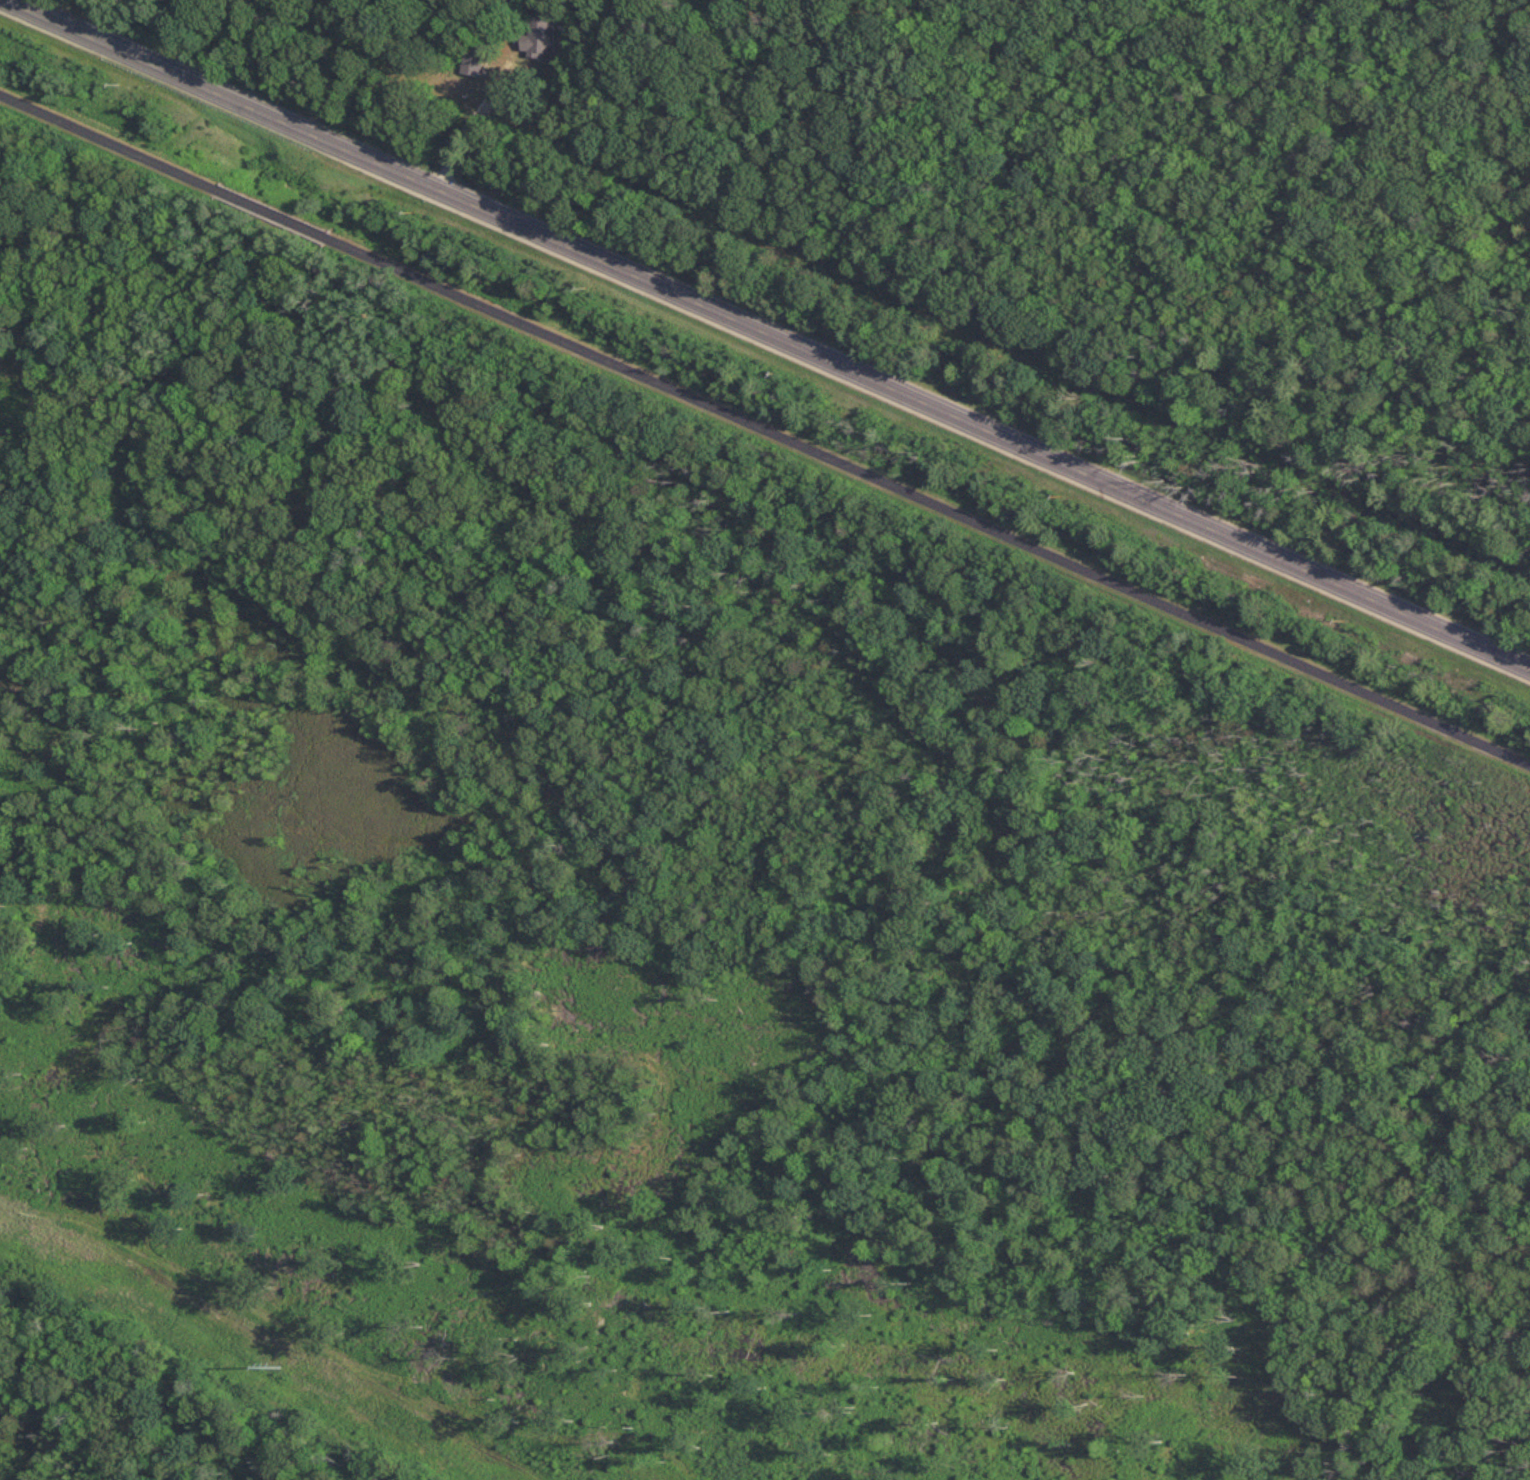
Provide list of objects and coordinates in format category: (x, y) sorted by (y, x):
building: (539, 34)
building: (473, 63)
road: (354, 72)
road: (470, 118)
road: (769, 334)
road: (764, 431)
power tower: (269, 1359)

